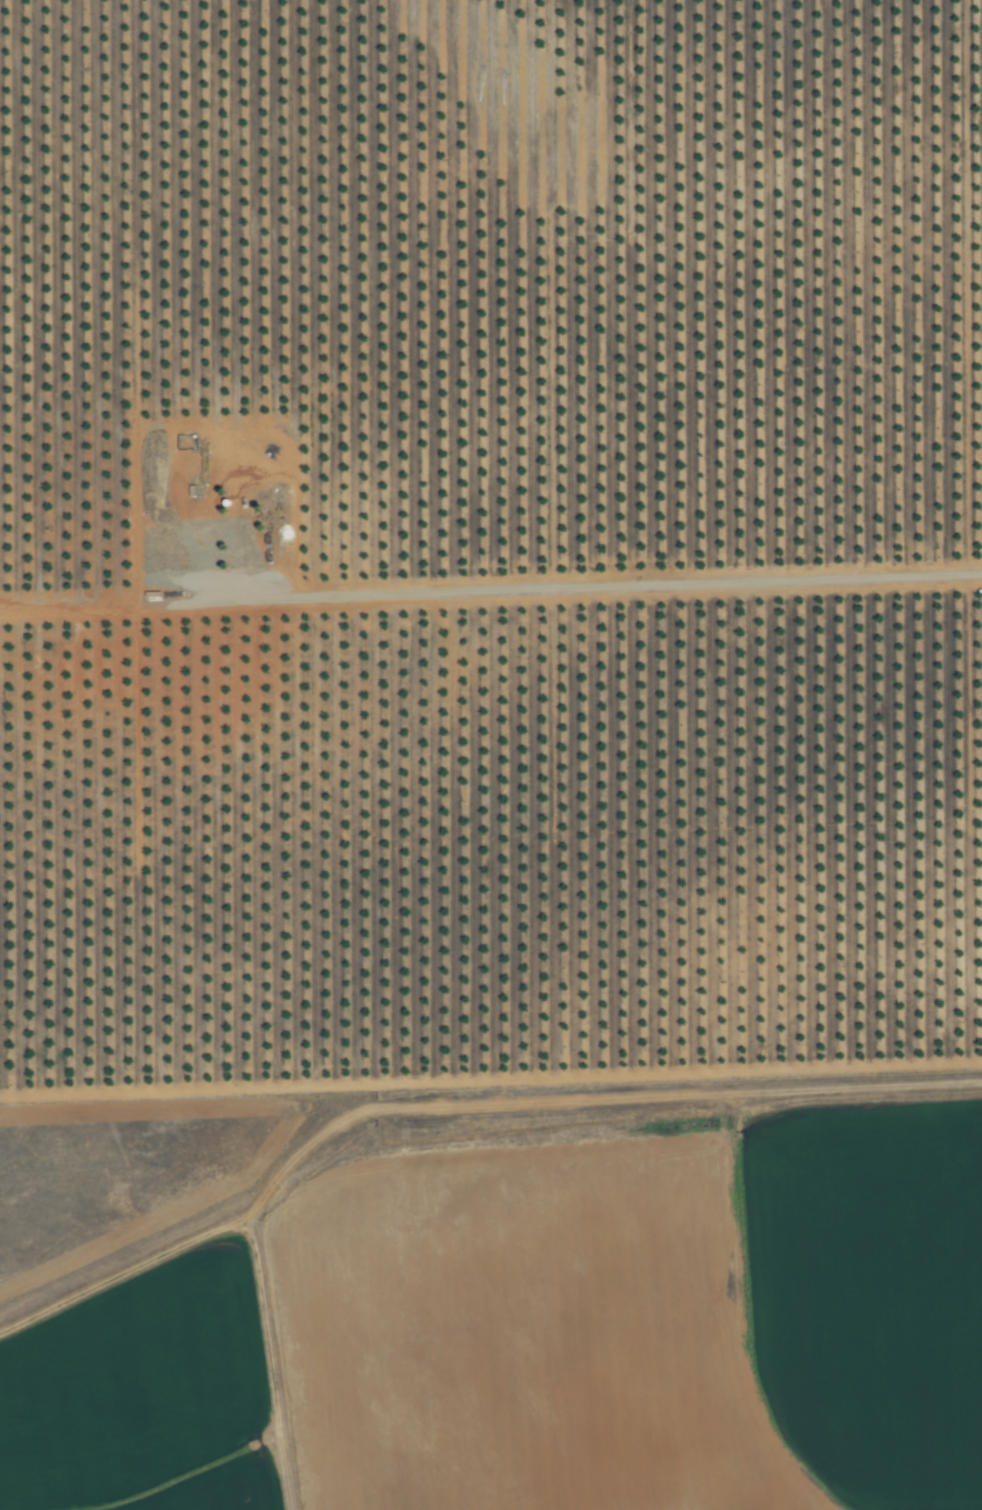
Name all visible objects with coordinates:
road: (608, 588)
road: (491, 1081)
road: (471, 1143)

